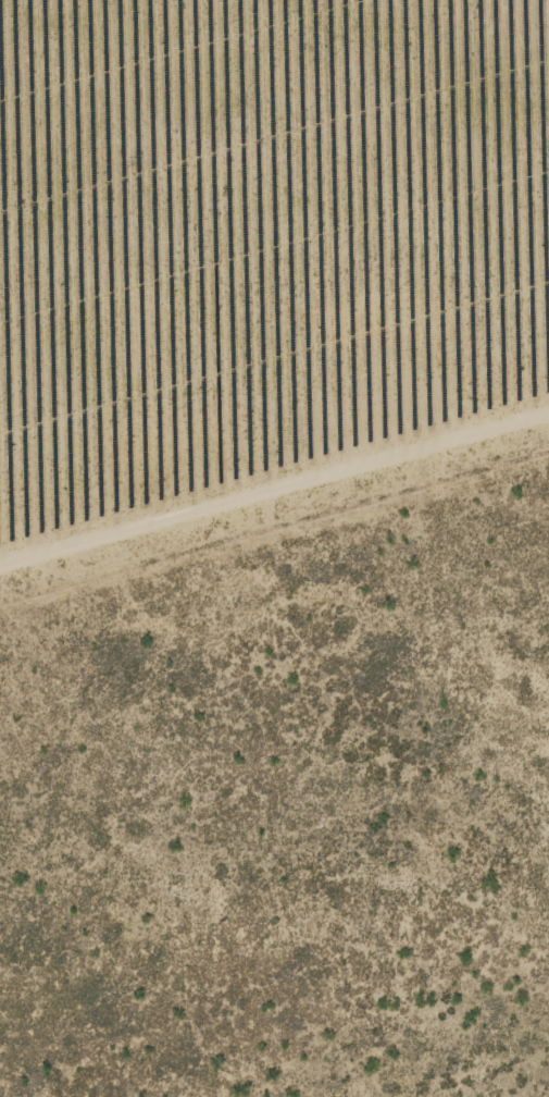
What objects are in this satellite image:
solar farm: (261, 264)

